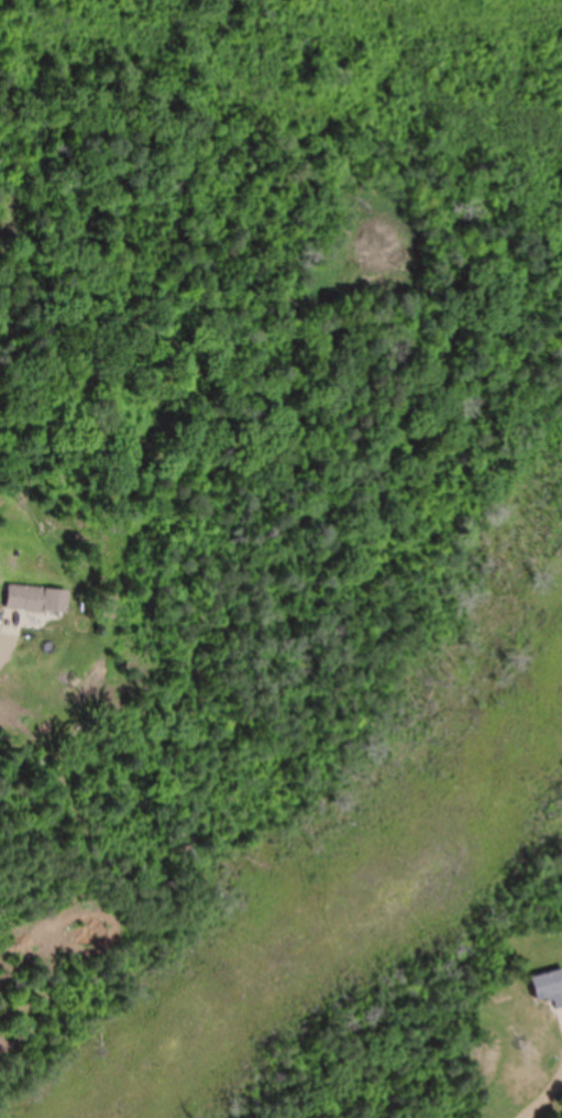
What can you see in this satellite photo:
building: (36, 600)
building: (548, 989)

